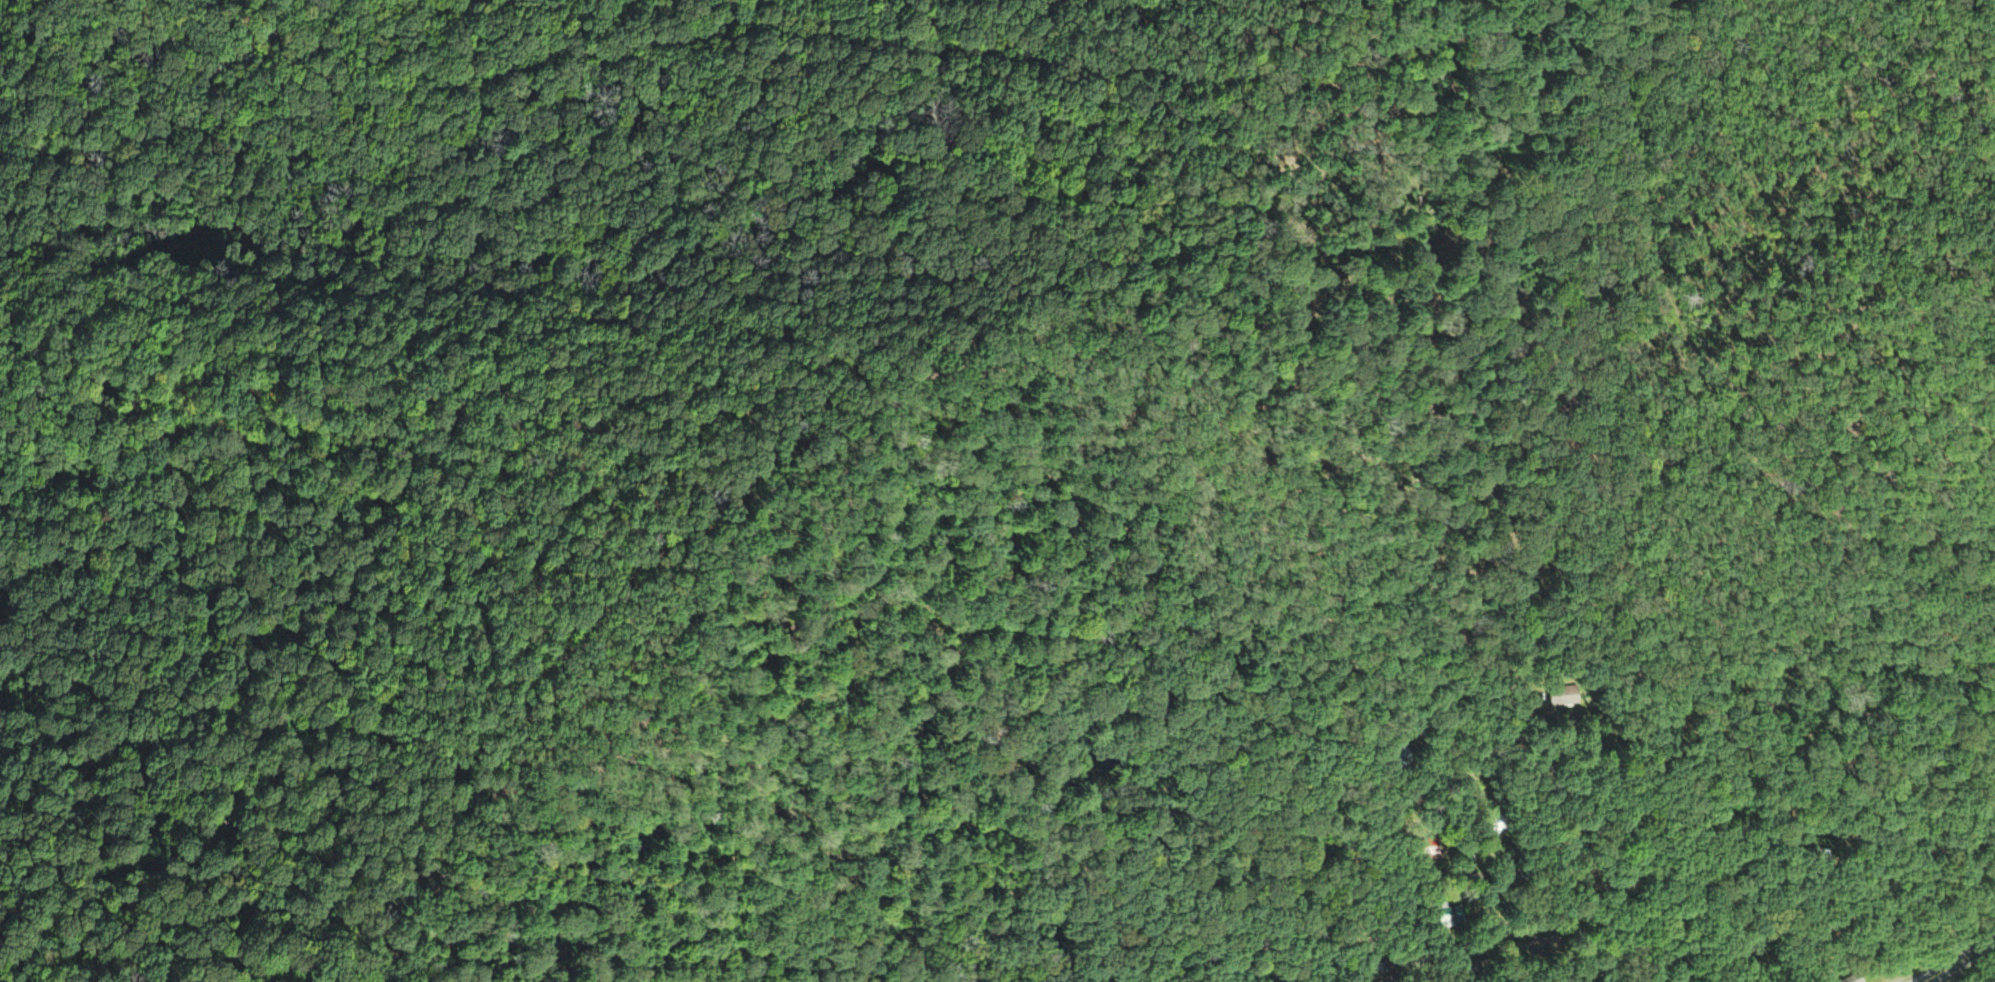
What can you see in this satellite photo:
road: (1412, 784)
road: (1502, 852)
road: (1611, 884)
building: (1457, 918)
road: (1962, 960)
road: (1626, 962)
building: (1851, 978)

